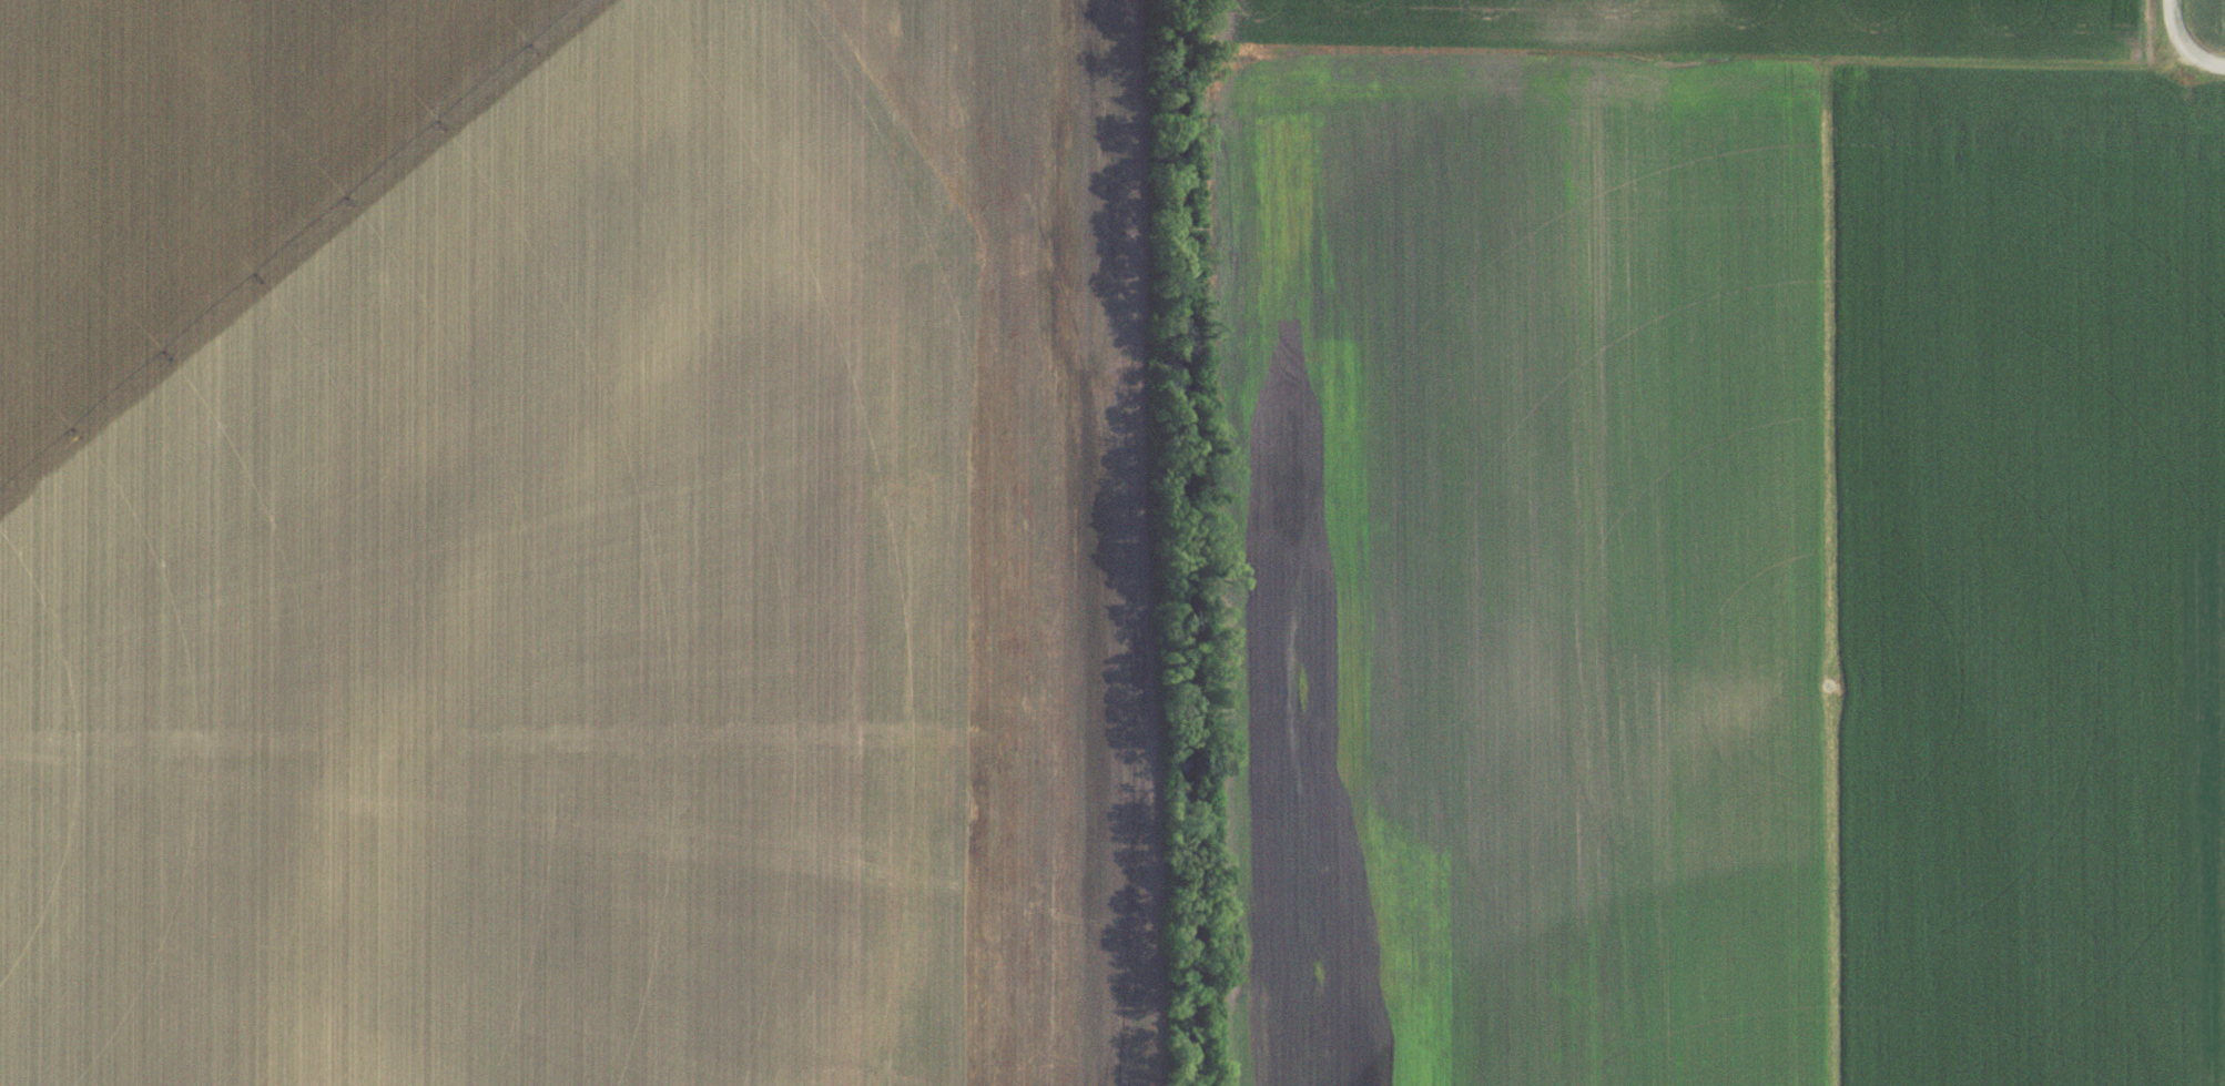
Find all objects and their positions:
road: (2180, 50)

